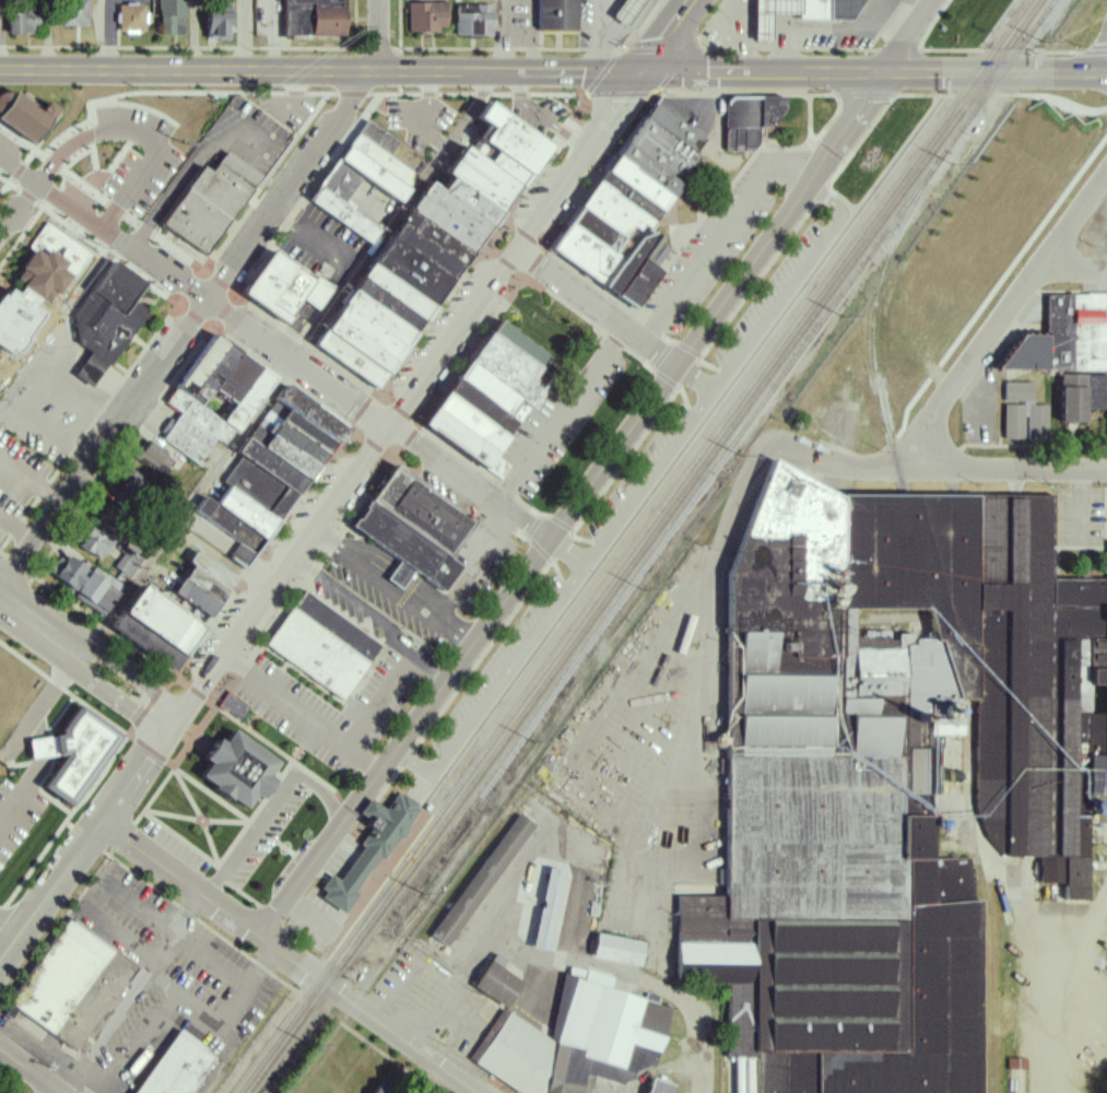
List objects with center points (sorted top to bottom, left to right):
building: (825, 9)
building: (619, 10)
building: (74, 13)
building: (553, 14)
building: (767, 15)
building: (172, 16)
building: (427, 16)
building: (132, 17)
building: (219, 19)
building: (311, 19)
building: (474, 20)
building: (22, 22)
road: (598, 24)
road: (667, 34)
road: (908, 34)
road: (380, 35)
railway: (1017, 35)
road: (298, 49)
road: (850, 52)
road: (594, 60)
traffic signals: (640, 69)
road: (873, 69)
road: (319, 70)
road: (678, 72)
road: (597, 73)
road: (968, 97)
road: (345, 98)
road: (103, 109)
parking lot: (545, 116)
road: (1102, 116)
building: (23, 118)
building: (750, 121)
parking lot: (423, 124)
road: (805, 124)
road: (550, 125)
road: (423, 127)
road: (146, 138)
parking lot: (246, 138)
road: (720, 145)
park: (882, 152)
road: (130, 155)
road: (95, 156)
parking lot: (141, 161)
road: (26, 169)
road: (17, 172)
road: (190, 172)
building: (361, 178)
road: (271, 188)
road: (8, 197)
road: (310, 197)
building: (637, 203)
road: (845, 204)
building: (211, 208)
road: (17, 209)
road: (400, 215)
road: (727, 236)
road: (21, 237)
parking lot: (322, 242)
parking lot: (722, 247)
building: (433, 248)
building: (42, 261)
road: (733, 269)
road: (1073, 270)
road: (581, 271)
park: (942, 274)
railway: (880, 284)
building: (284, 286)
road: (597, 308)
road: (195, 316)
building: (104, 318)
road: (1001, 318)
road: (60, 324)
road: (27, 326)
road: (974, 327)
parking lot: (15, 329)
road: (186, 330)
park: (549, 332)
building: (1072, 340)
road: (692, 354)
road: (294, 361)
road: (697, 381)
road: (669, 384)
road: (366, 387)
building: (1017, 389)
building: (211, 393)
building: (1082, 397)
building: (478, 399)
road: (69, 402)
road: (397, 412)
building: (1064, 413)
road: (105, 415)
road: (567, 421)
parking lot: (564, 427)
parking lot: (42, 436)
road: (42, 442)
road: (601, 448)
railway: (725, 455)
building: (154, 457)
road: (676, 462)
road: (118, 465)
building: (272, 469)
road: (935, 472)
road: (377, 475)
road: (833, 479)
road: (30, 485)
road: (639, 496)
parking lot: (627, 501)
road: (577, 506)
road: (475, 507)
road: (184, 514)
parking lot: (1077, 516)
road: (322, 520)
building: (409, 521)
road: (586, 524)
road: (17, 528)
road: (562, 530)
road: (274, 536)
building: (95, 543)
railway: (632, 545)
road: (568, 554)
road: (2, 560)
building: (127, 564)
road: (469, 571)
building: (68, 572)
railway: (622, 581)
building: (196, 584)
building: (93, 586)
parking lot: (388, 589)
road: (386, 598)
parking lot: (348, 604)
road: (381, 613)
road: (370, 622)
building: (155, 625)
road: (106, 632)
building: (320, 646)
road: (91, 647)
road: (84, 674)
parking lot: (393, 683)
road: (66, 691)
road: (52, 701)
road: (375, 701)
building: (227, 709)
road: (246, 710)
road: (54, 713)
parking lot: (309, 716)
road: (298, 720)
road: (54, 747)
road: (40, 748)
parking lot: (650, 749)
building: (76, 751)
road: (590, 755)
road: (693, 755)
road: (151, 756)
road: (378, 757)
building: (234, 771)
building: (882, 773)
road: (167, 781)
road: (44, 795)
road: (26, 798)
road: (213, 799)
road: (416, 800)
road: (89, 801)
road: (272, 811)
road: (205, 820)
road: (178, 821)
road: (201, 822)
parking lot: (16, 825)
road: (233, 826)
parking lot: (268, 832)
road: (288, 853)
building: (361, 855)
building: (475, 883)
road: (557, 890)
road: (96, 901)
road: (70, 912)
building: (572, 914)
building: (538, 917)
road: (276, 919)
railway: (348, 929)
road: (10, 932)
building: (617, 951)
road: (291, 957)
road: (518, 959)
road: (250, 960)
road: (256, 965)
parking lot: (163, 986)
building: (488, 987)
building: (69, 989)
road: (163, 989)
road: (1076, 989)
building: (525, 996)
road: (139, 998)
parking lot: (425, 1006)
road: (197, 1014)
building: (569, 1041)
road: (46, 1059)
building: (185, 1069)
road: (30, 1070)
road: (428, 1079)
building: (658, 1088)
building: (382, 1089)

